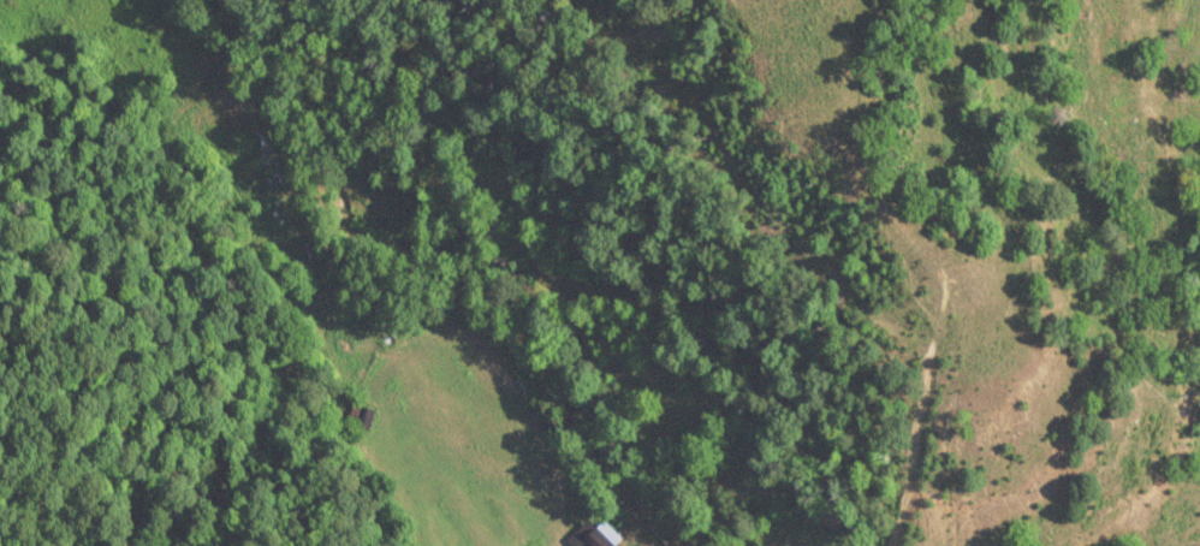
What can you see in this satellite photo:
building: (600, 535)

